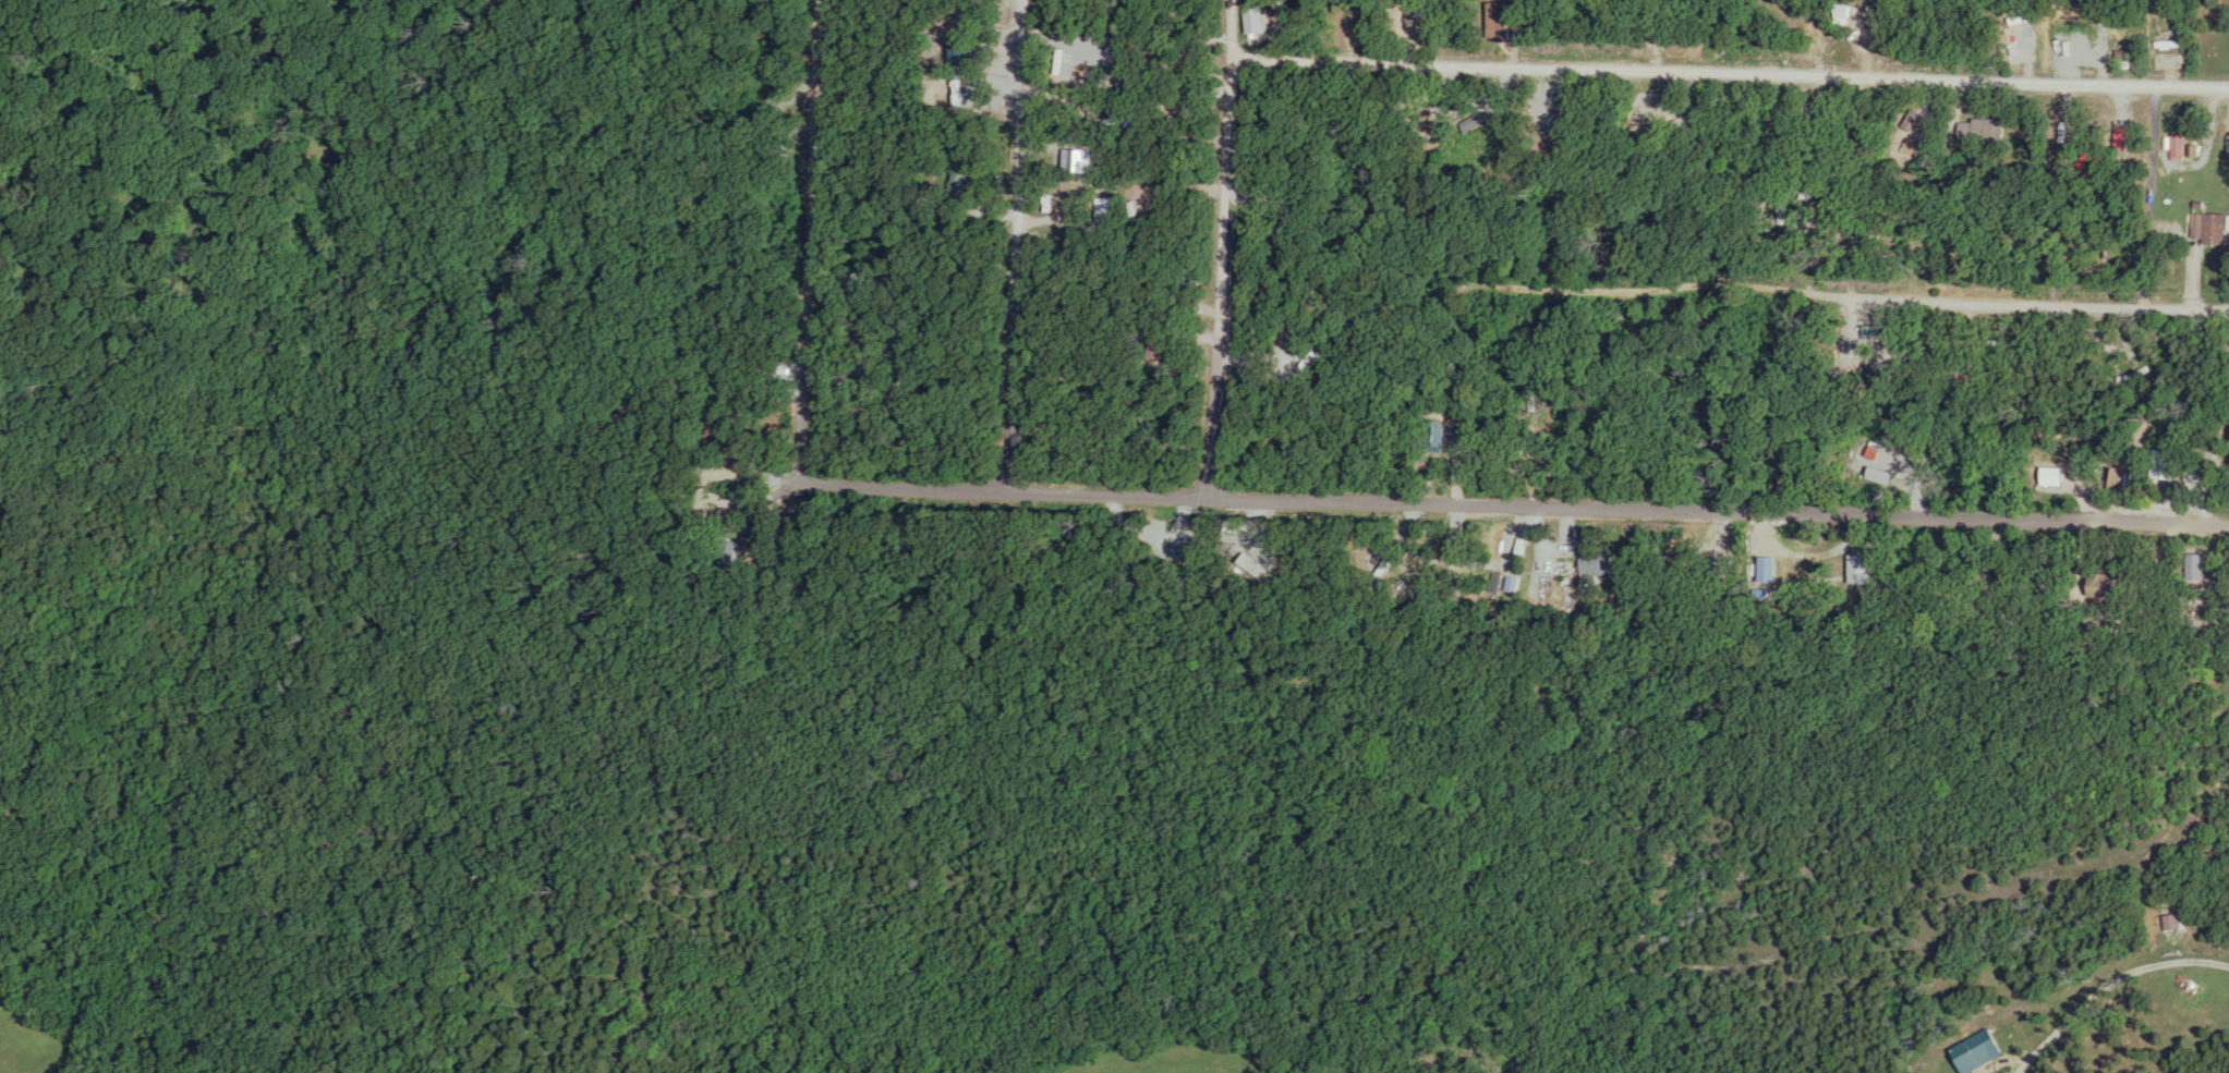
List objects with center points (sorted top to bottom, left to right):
road: (1733, 59)
building: (1989, 131)
building: (2178, 145)
building: (957, 184)
building: (2208, 229)
road: (813, 235)
road: (1018, 240)
road: (1227, 244)
road: (1857, 291)
building: (2166, 465)
road: (767, 474)
road: (1518, 500)
building: (1597, 565)
road: (2113, 980)
road: (2010, 1060)

